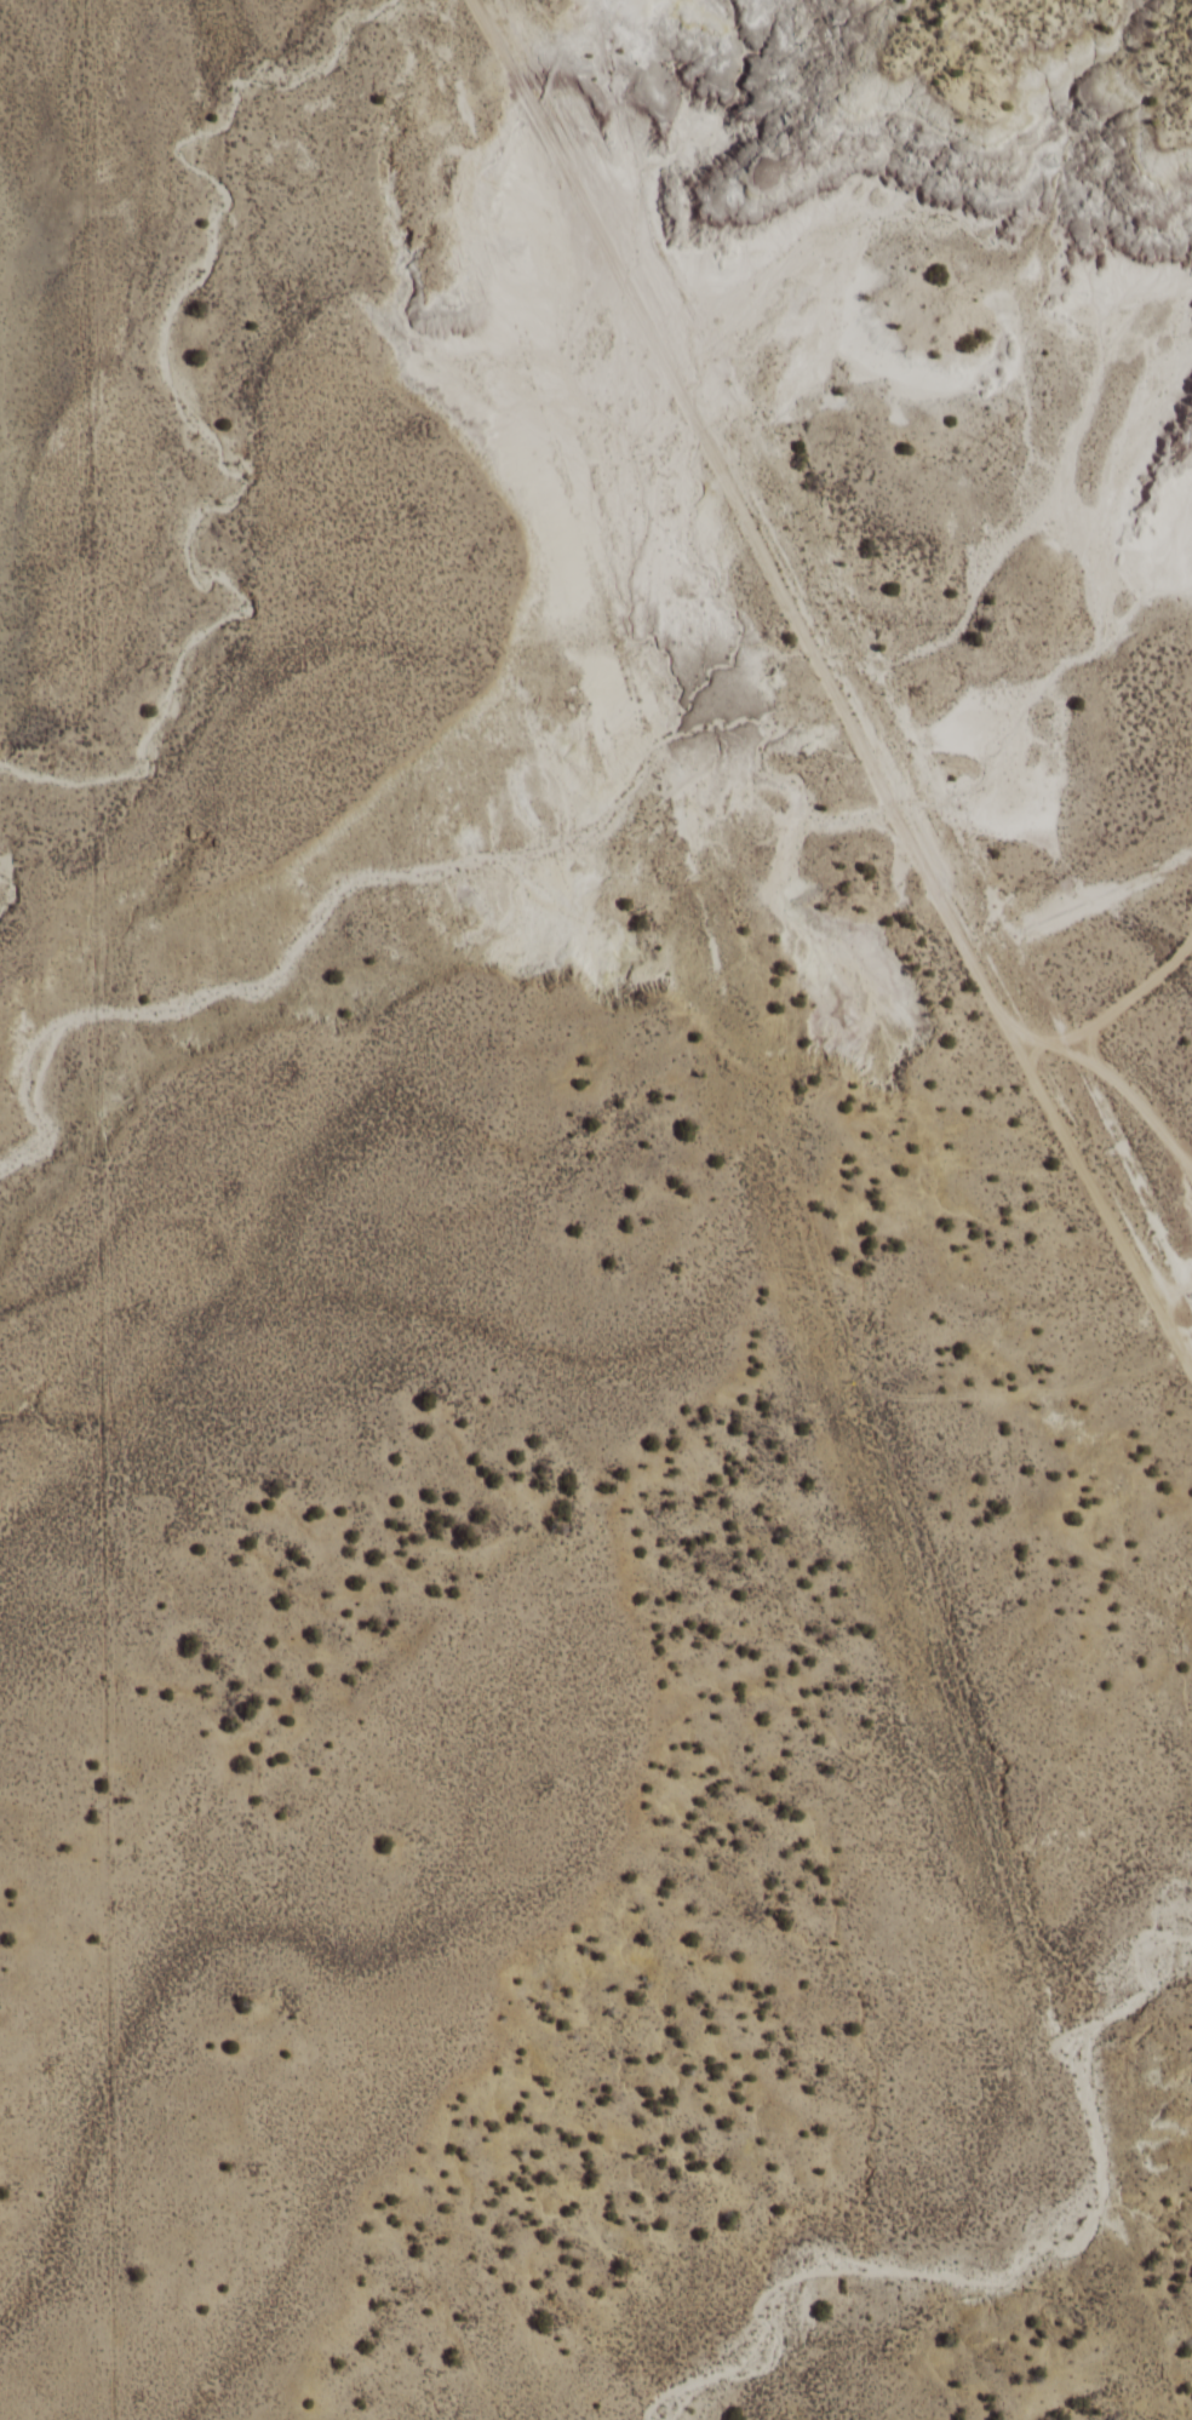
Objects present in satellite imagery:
road: (830, 690)

